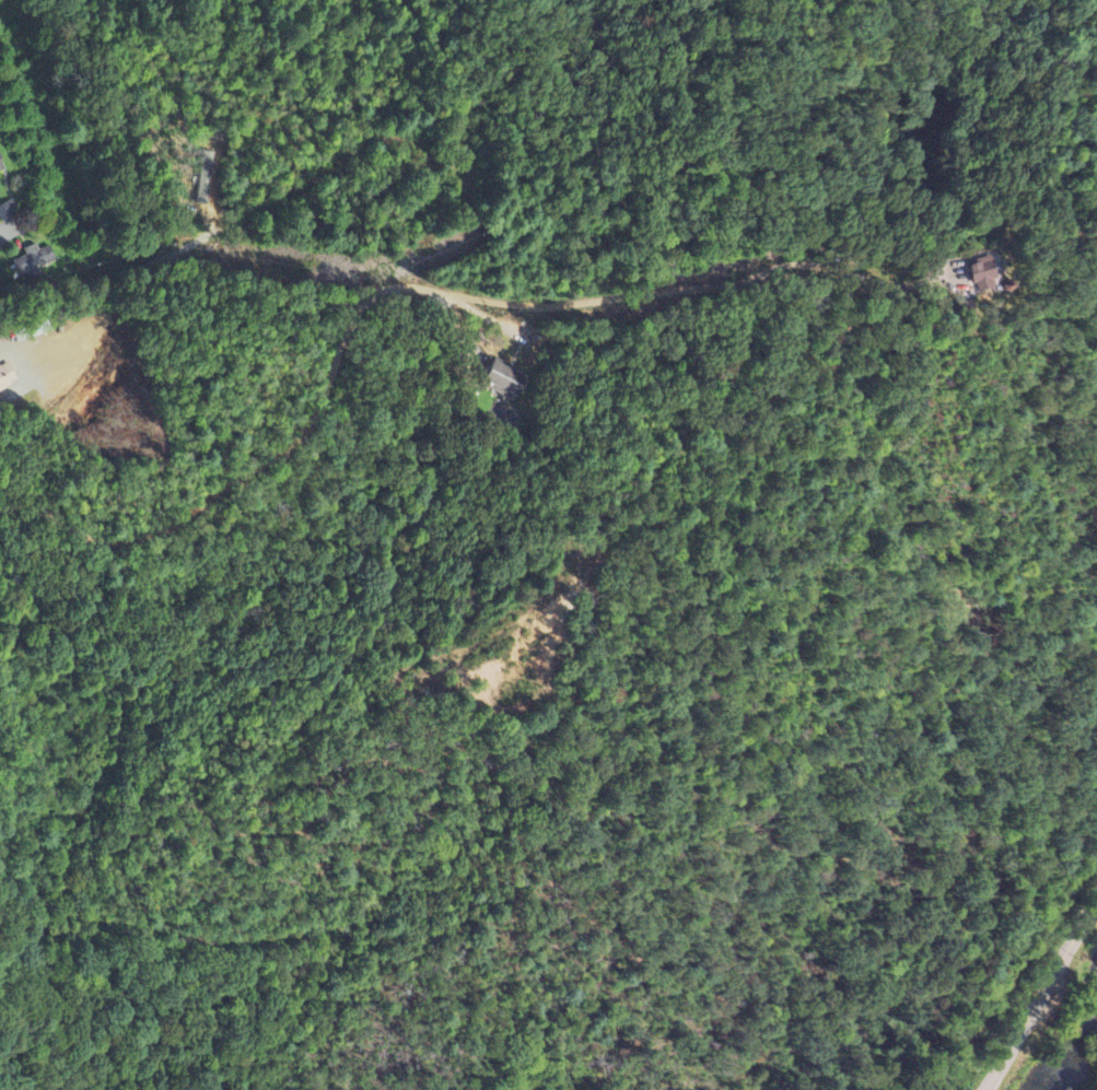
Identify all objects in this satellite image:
building: (0, 167)
building: (33, 261)
building: (980, 274)
road: (33, 353)
building: (7, 377)
building: (502, 379)
road: (80, 429)
railway: (1014, 964)
road: (1039, 993)
river: (1087, 1067)

